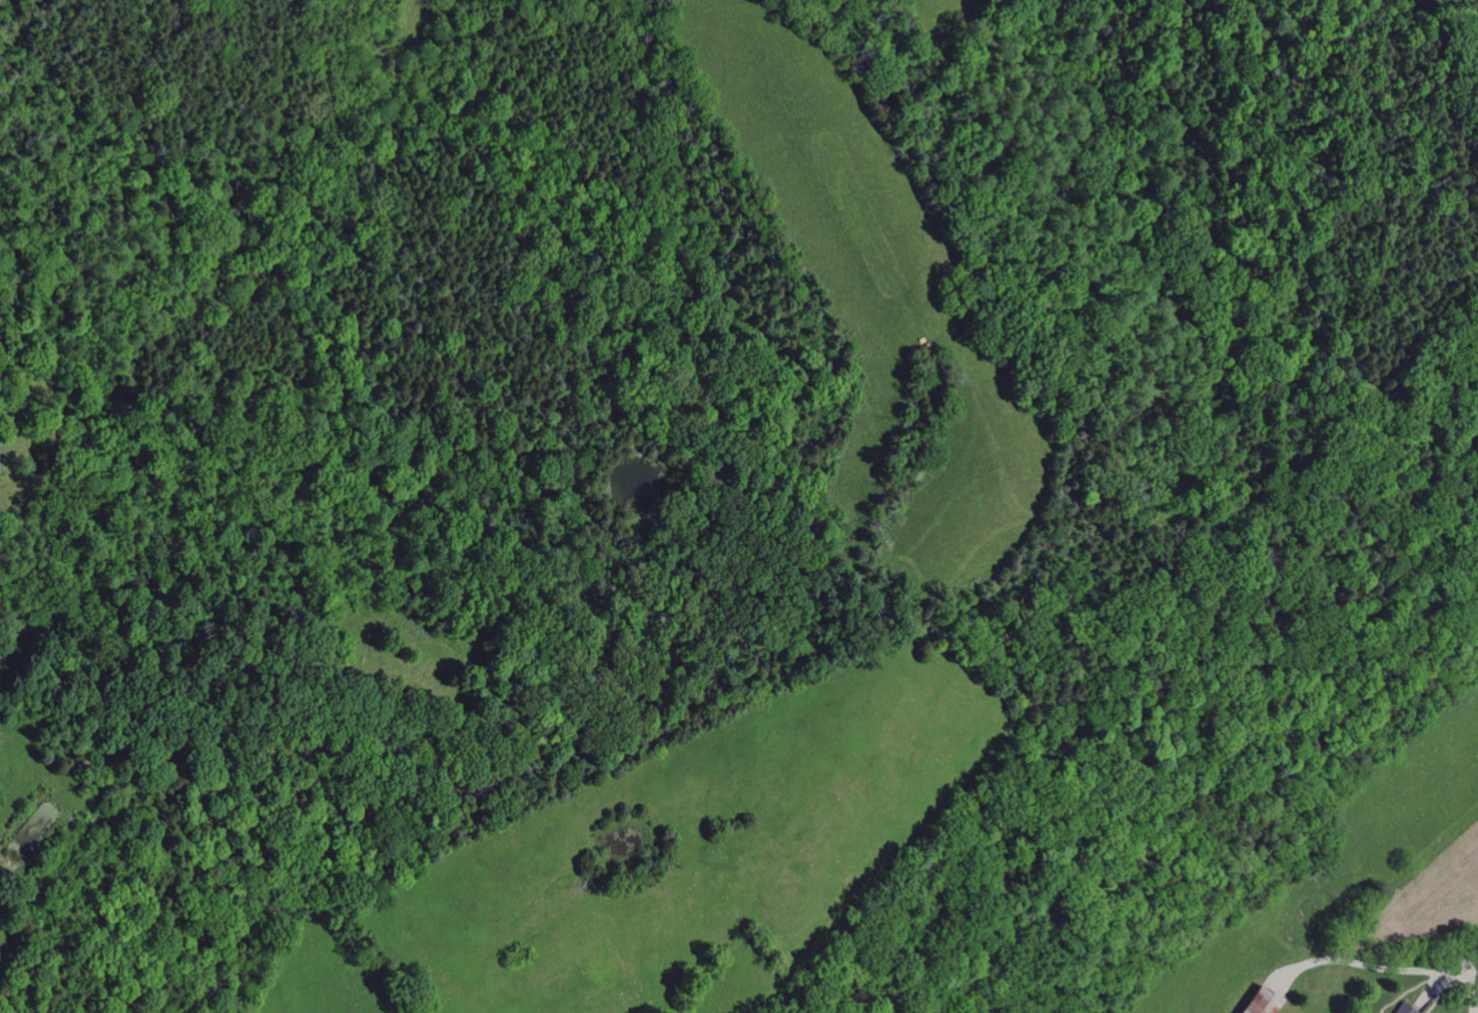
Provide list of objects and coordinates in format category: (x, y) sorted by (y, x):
road: (1398, 957)
building: (1257, 1001)
building: (1404, 1009)

